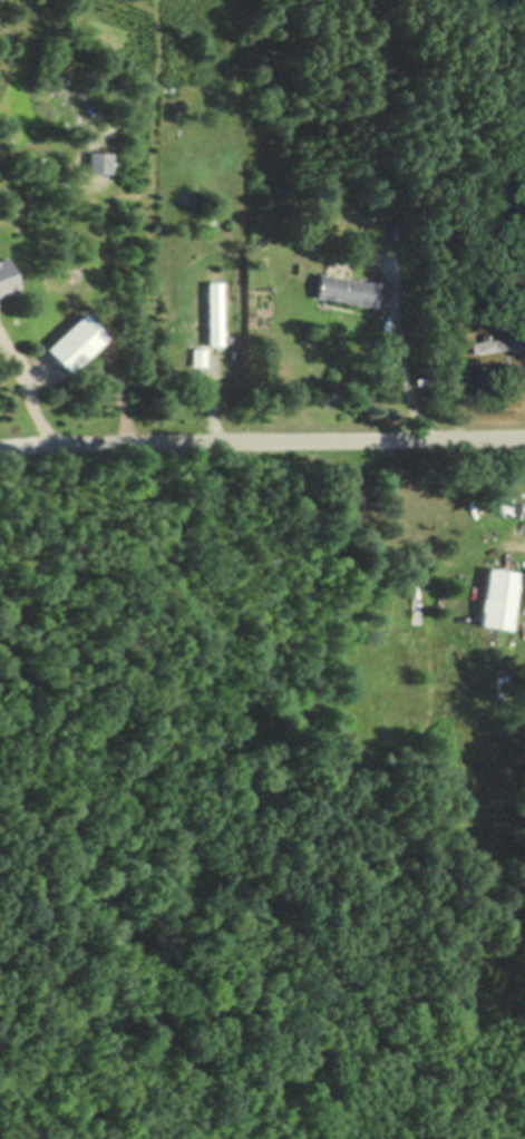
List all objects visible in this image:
building: (47, 39)
building: (98, 162)
building: (263, 259)
building: (6, 278)
building: (348, 288)
building: (406, 310)
building: (210, 315)
building: (90, 319)
building: (502, 342)
building: (67, 349)
building: (198, 357)
building: (420, 379)
road: (29, 392)
road: (262, 444)
building: (516, 508)
building: (496, 597)
building: (524, 604)

